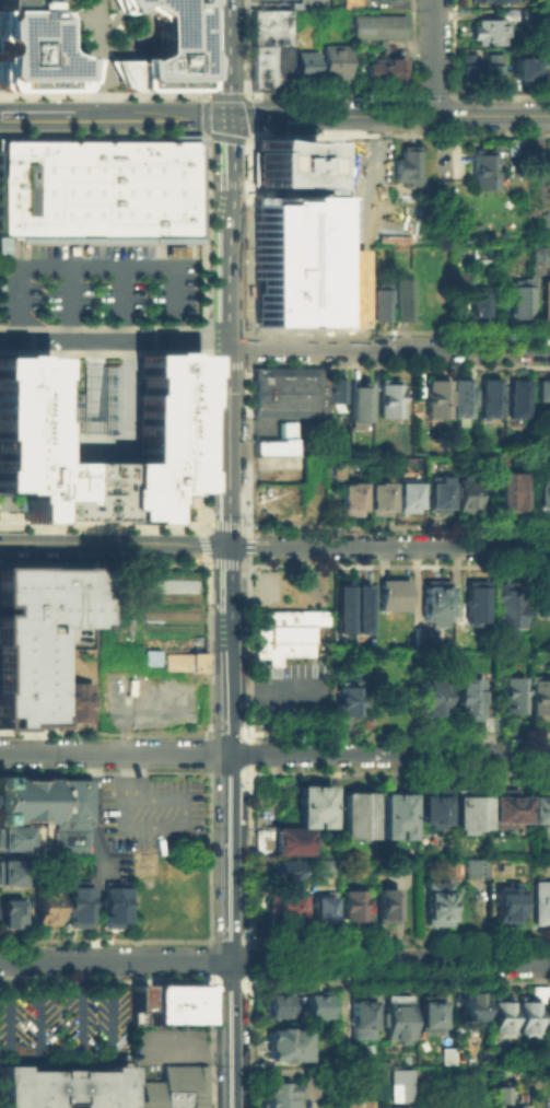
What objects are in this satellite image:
building: (20, 2)
building: (350, 3)
building: (485, 3)
building: (527, 15)
building: (270, 22)
building: (378, 27)
building: (489, 34)
building: (164, 45)
building: (34, 54)
road: (230, 57)
road: (433, 57)
road: (95, 58)
building: (304, 63)
building: (335, 63)
building: (282, 66)
building: (261, 67)
building: (494, 67)
building: (467, 68)
building: (386, 69)
building: (523, 70)
traffic signals: (231, 115)
road: (38, 116)
road: (153, 116)
road: (389, 116)
building: (514, 147)
building: (534, 147)
road: (232, 150)
building: (284, 162)
building: (409, 165)
building: (489, 172)
building: (549, 175)
building: (336, 183)
building: (100, 188)
building: (541, 258)
building: (303, 260)
road: (94, 264)
parking lot: (97, 280)
building: (464, 282)
road: (70, 300)
road: (122, 301)
building: (524, 301)
building: (547, 302)
building: (403, 303)
building: (383, 304)
building: (480, 310)
road: (113, 337)
road: (389, 349)
road: (227, 364)
building: (332, 389)
building: (547, 393)
building: (293, 394)
building: (393, 401)
building: (440, 401)
building: (464, 401)
building: (492, 401)
building: (520, 401)
building: (362, 404)
building: (165, 408)
building: (280, 445)
road: (90, 448)
building: (339, 473)
building: (513, 493)
building: (438, 495)
building: (542, 495)
building: (466, 498)
building: (408, 499)
building: (352, 502)
building: (381, 502)
road: (113, 543)
traffic signals: (227, 544)
road: (245, 545)
road: (407, 545)
road: (229, 596)
building: (395, 598)
building: (546, 600)
building: (436, 603)
building: (479, 604)
crop: (160, 608)
building: (510, 608)
building: (344, 611)
building: (364, 613)
building: (36, 633)
building: (288, 637)
building: (426, 639)
building: (148, 656)
building: (186, 664)
building: (516, 698)
building: (470, 699)
building: (433, 700)
building: (541, 700)
building: (349, 702)
building: (78, 705)
road: (118, 754)
road: (393, 754)
building: (311, 805)
building: (510, 807)
building: (541, 809)
building: (434, 810)
building: (48, 812)
building: (471, 813)
parking lot: (152, 814)
building: (358, 817)
building: (398, 818)
road: (133, 819)
road: (91, 824)
road: (118, 826)
road: (93, 827)
building: (14, 841)
building: (282, 845)
building: (69, 870)
building: (321, 870)
building: (478, 871)
building: (12, 873)
building: (282, 873)
road: (236, 877)
building: (411, 878)
building: (114, 903)
building: (507, 905)
building: (542, 906)
building: (46, 907)
building: (288, 907)
building: (388, 907)
building: (438, 907)
building: (78, 908)
building: (353, 909)
building: (323, 914)
building: (9, 917)
road: (118, 961)
road: (394, 961)
building: (139, 1002)
building: (178, 1007)
building: (278, 1007)
building: (317, 1007)
building: (475, 1008)
building: (431, 1018)
building: (528, 1018)
building: (548, 1018)
building: (362, 1019)
building: (502, 1019)
building: (399, 1022)
parking lot: (65, 1026)
road: (187, 1049)
building: (286, 1050)
building: (443, 1054)
road: (24, 1055)
road: (97, 1055)
building: (398, 1084)
building: (176, 1089)
building: (63, 1090)
building: (280, 1096)
building: (502, 1096)
building: (359, 1106)
building: (396, 1107)

